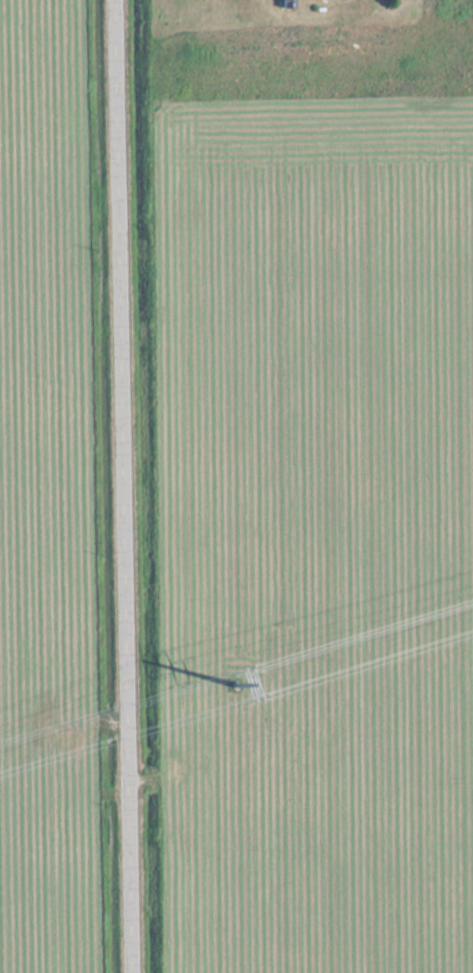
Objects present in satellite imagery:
building: (290, 3)
road: (122, 486)
power tower: (235, 684)

